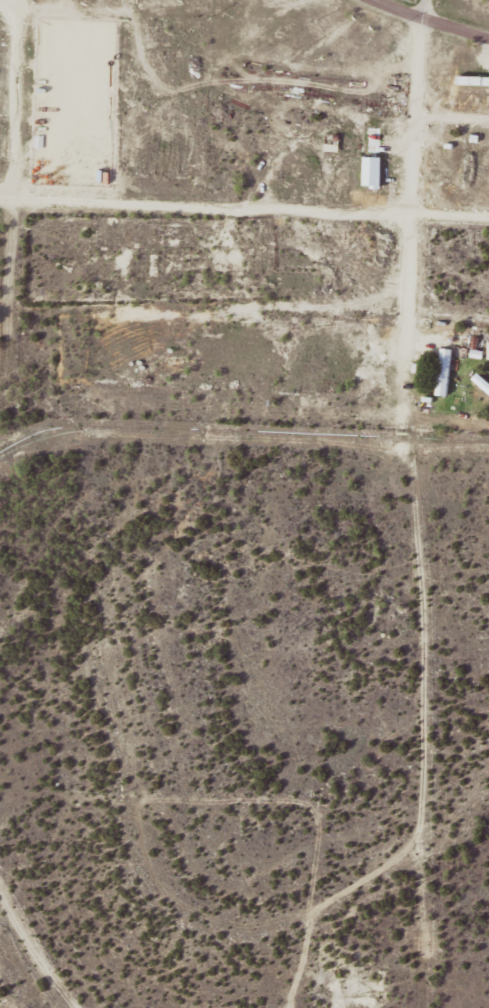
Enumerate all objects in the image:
road: (434, 18)
building: (473, 81)
road: (420, 106)
road: (18, 156)
building: (374, 173)
road: (244, 206)
road: (410, 290)
building: (445, 371)
road: (49, 942)

